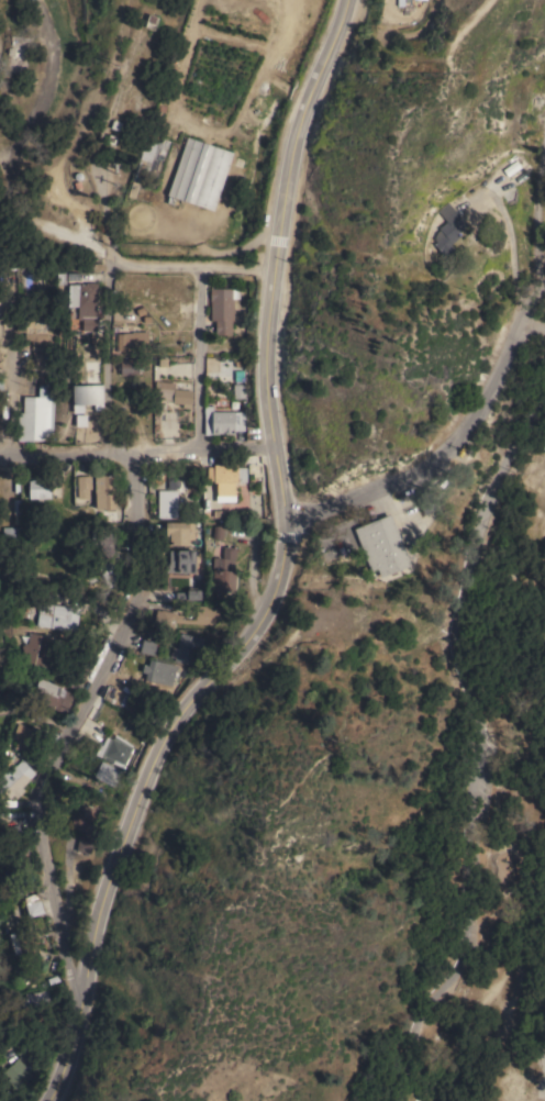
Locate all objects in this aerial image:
road: (190, 23)
building: (537, 100)
building: (192, 103)
road: (11, 147)
building: (513, 169)
building: (201, 175)
road: (103, 211)
building: (448, 230)
road: (511, 252)
road: (277, 255)
building: (84, 302)
building: (223, 309)
road: (530, 326)
building: (36, 330)
building: (133, 343)
road: (109, 359)
road: (201, 362)
building: (129, 367)
road: (5, 382)
road: (77, 382)
building: (87, 393)
building: (173, 393)
building: (37, 415)
building: (223, 421)
road: (453, 437)
road: (205, 452)
road: (68, 456)
building: (225, 478)
building: (84, 486)
building: (40, 489)
building: (105, 493)
building: (169, 496)
building: (426, 500)
flagpole: (360, 505)
building: (179, 533)
road: (287, 536)
building: (100, 538)
building: (381, 545)
building: (181, 561)
road: (475, 565)
building: (224, 571)
building: (110, 574)
road: (252, 578)
building: (190, 594)
building: (205, 615)
building: (57, 616)
building: (167, 620)
road: (451, 635)
building: (148, 647)
building: (188, 647)
building: (41, 650)
building: (159, 672)
road: (248, 672)
park: (423, 694)
building: (54, 696)
road: (187, 704)
road: (77, 734)
building: (22, 739)
road: (471, 745)
building: (118, 752)
building: (105, 775)
building: (13, 780)
road: (468, 812)
building: (82, 822)
road: (475, 833)
road: (538, 839)
building: (85, 844)
building: (16, 845)
building: (35, 908)
building: (16, 943)
road: (469, 948)
road: (481, 948)
road: (438, 986)
building: (32, 1000)
road: (78, 1003)
building: (26, 1049)
building: (18, 1074)
road: (390, 1086)
road: (529, 1094)

